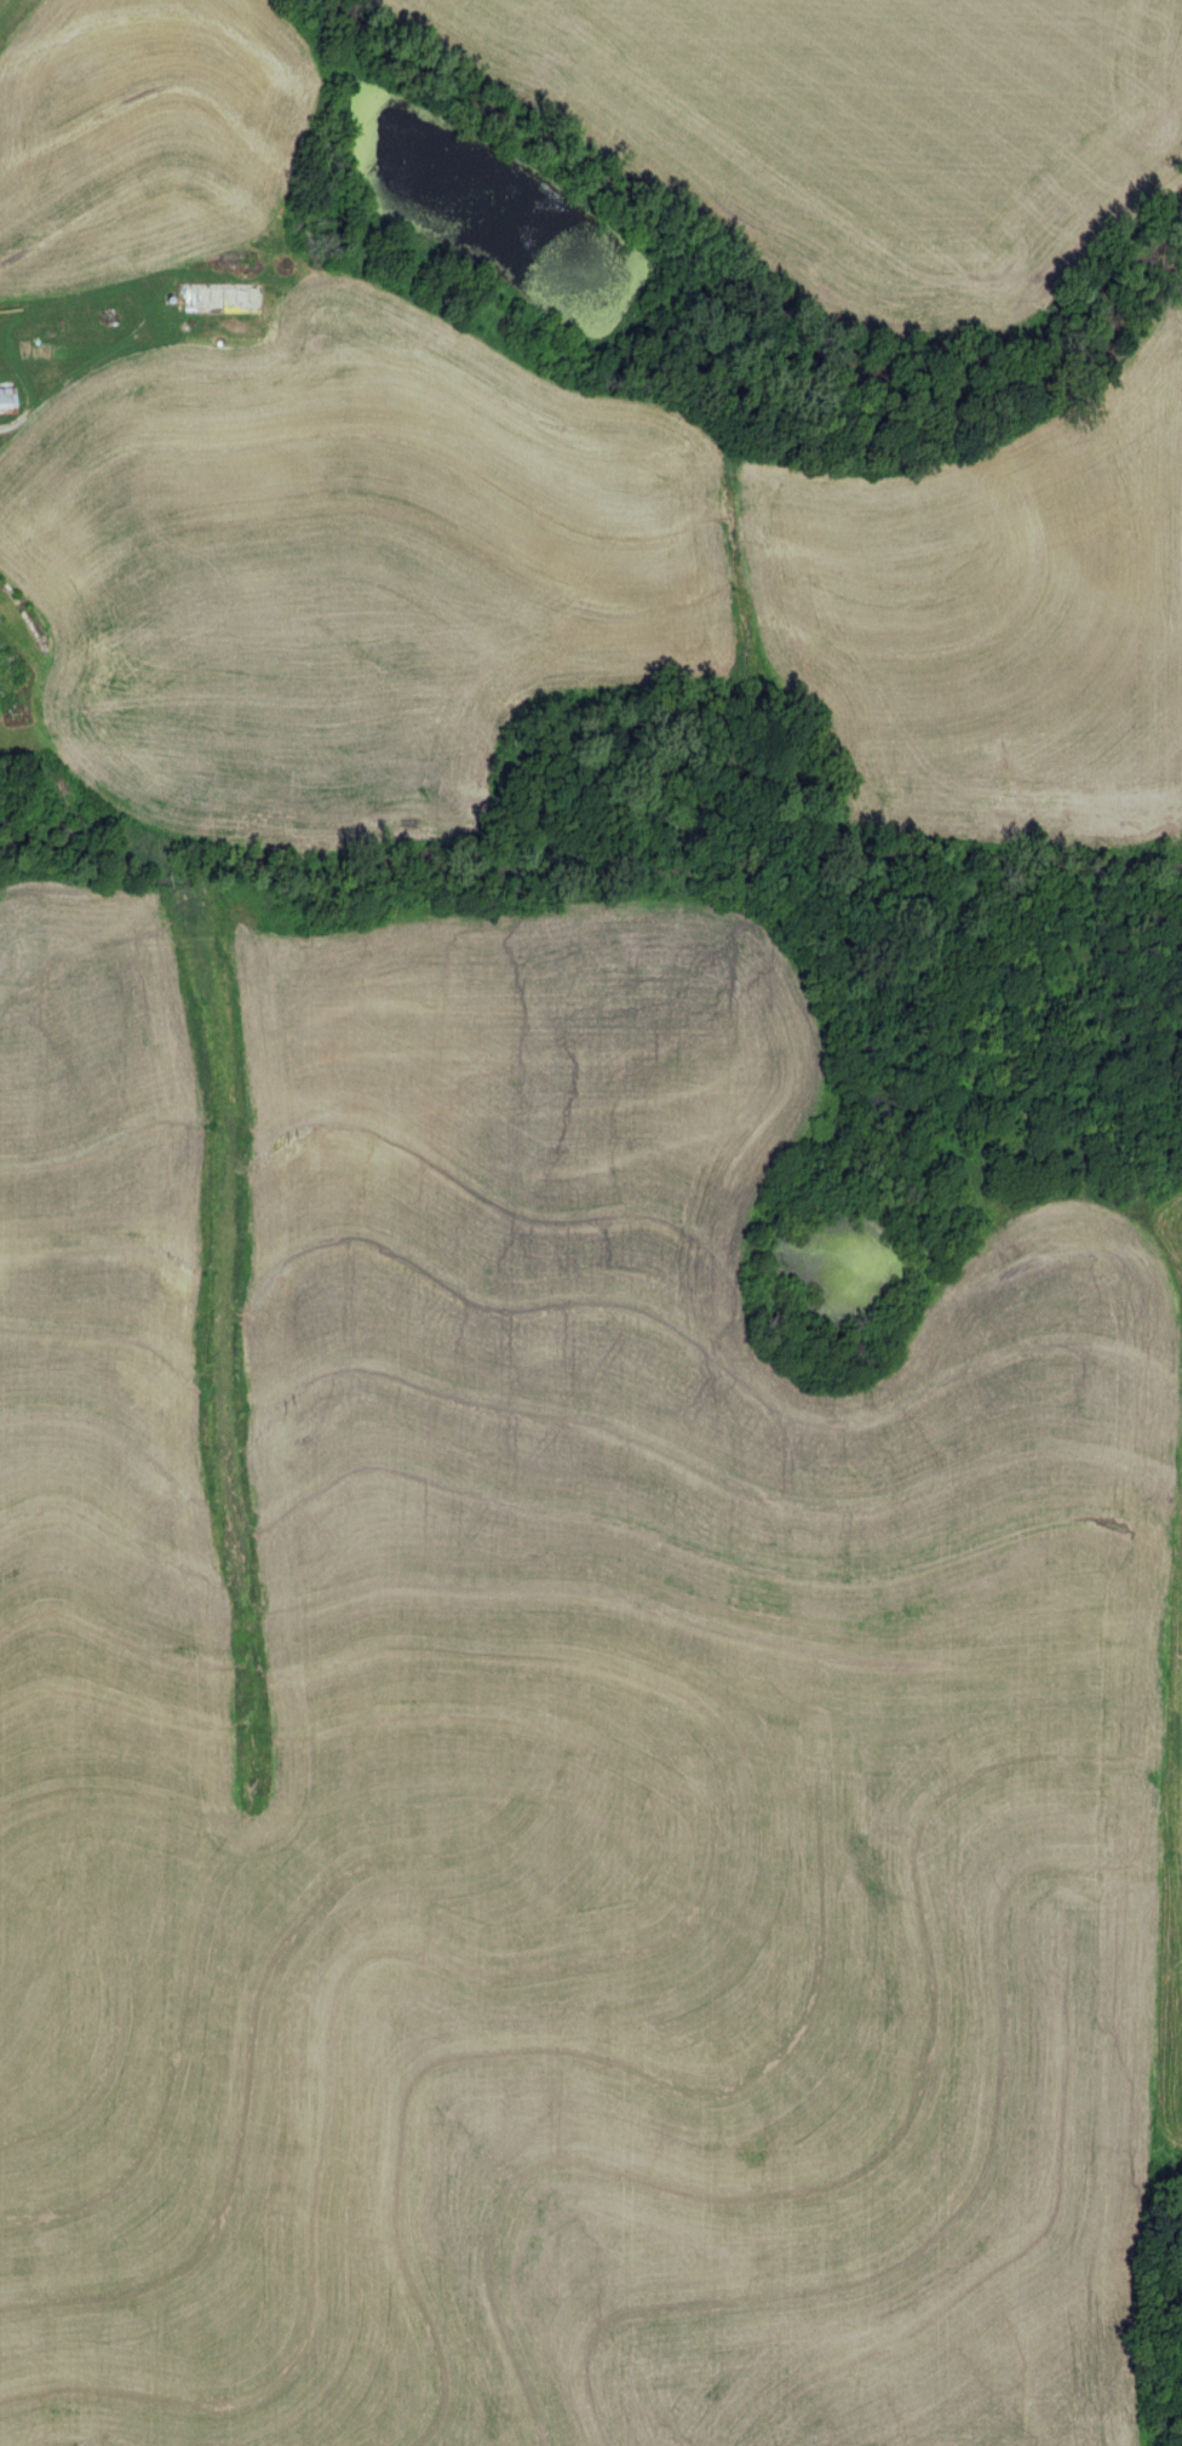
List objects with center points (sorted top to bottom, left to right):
building: (5, 403)

